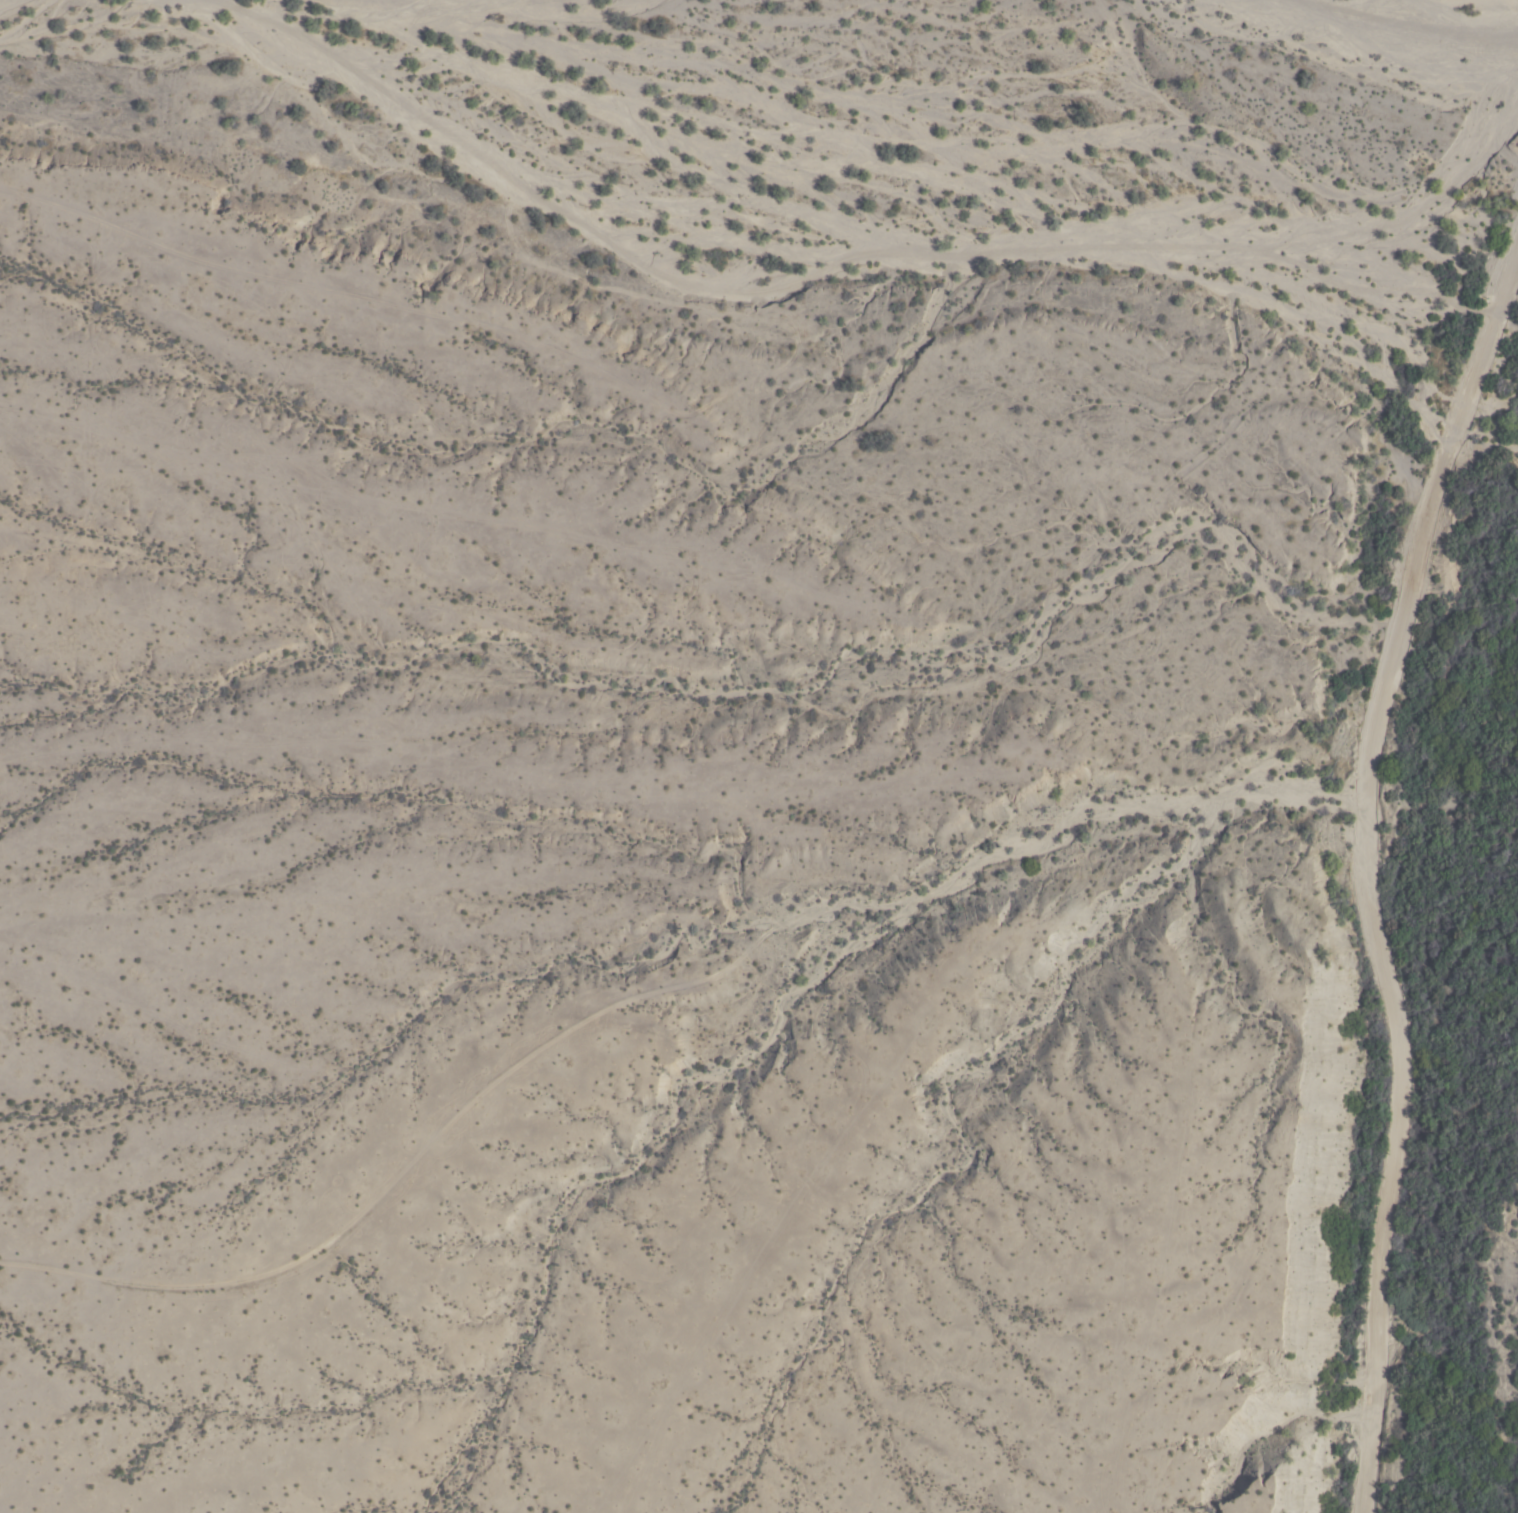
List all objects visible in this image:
road: (1364, 1288)

